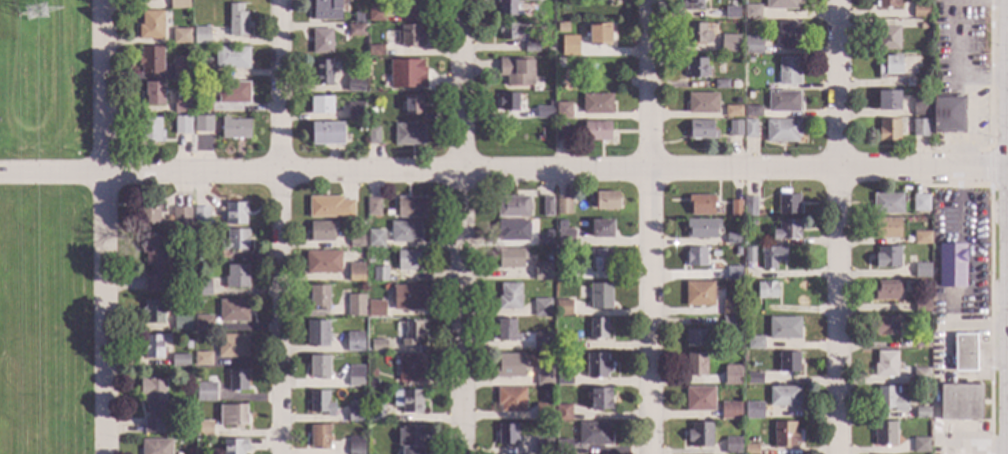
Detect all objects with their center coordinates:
building: (149, 0)
building: (529, 0)
building: (541, 0)
building: (887, 3)
building: (179, 4)
building: (781, 4)
building: (693, 5)
building: (506, 7)
building: (411, 9)
building: (326, 10)
building: (752, 12)
building: (920, 12)
building: (730, 13)
power tower: (37, 14)
building: (375, 14)
building: (358, 17)
building: (237, 20)
building: (153, 24)
building: (923, 26)
building: (356, 31)
building: (511, 31)
building: (696, 33)
building: (599, 35)
building: (201, 36)
building: (410, 36)
building: (787, 36)
building: (181, 37)
building: (887, 38)
building: (322, 42)
building: (730, 44)
building: (752, 45)
building: (568, 46)
building: (531, 48)
building: (375, 51)
building: (549, 52)
building: (231, 58)
building: (749, 60)
building: (151, 61)
building: (560, 63)
building: (889, 66)
building: (180, 67)
building: (696, 68)
building: (202, 69)
building: (516, 71)
building: (788, 71)
building: (323, 73)
building: (406, 74)
building: (908, 83)
building: (355, 85)
building: (723, 85)
building: (153, 93)
building: (233, 93)
building: (888, 100)
building: (508, 102)
building: (782, 102)
building: (702, 103)
building: (596, 104)
building: (181, 105)
building: (202, 105)
building: (321, 105)
building: (413, 106)
building: (920, 107)
building: (563, 110)
building: (356, 111)
building: (372, 111)
building: (732, 111)
building: (752, 111)
building: (543, 113)
building: (531, 115)
building: (949, 115)
building: (550, 123)
building: (203, 124)
building: (182, 125)
building: (361, 126)
building: (734, 128)
building: (920, 128)
building: (234, 129)
building: (749, 129)
building: (888, 129)
building: (150, 130)
building: (701, 130)
building: (781, 131)
building: (561, 132)
building: (596, 132)
building: (326, 133)
building: (409, 135)
building: (373, 136)
road: (504, 172)
building: (606, 201)
building: (787, 203)
building: (920, 203)
building: (888, 204)
building: (701, 205)
building: (563, 206)
building: (330, 207)
building: (373, 207)
building: (513, 207)
building: (547, 207)
building: (750, 207)
building: (411, 208)
building: (735, 208)
building: (149, 212)
building: (235, 213)
building: (201, 216)
building: (181, 217)
building: (750, 224)
road: (105, 226)
road: (839, 226)
road: (279, 227)
road: (461, 227)
road: (650, 227)
building: (886, 228)
building: (601, 229)
building: (701, 229)
building: (512, 230)
building: (786, 230)
building: (321, 231)
building: (404, 232)
building: (197, 235)
building: (564, 237)
building: (375, 238)
building: (732, 238)
building: (921, 238)
building: (545, 239)
building: (235, 240)
building: (356, 241)
building: (736, 252)
building: (749, 255)
building: (695, 257)
building: (771, 257)
building: (887, 257)
building: (509, 258)
building: (599, 259)
building: (407, 260)
building: (155, 261)
building: (323, 262)
building: (369, 262)
building: (951, 265)
building: (921, 270)
building: (565, 271)
building: (543, 272)
building: (355, 273)
building: (380, 274)
building: (733, 274)
building: (237, 277)
building: (746, 287)
building: (202, 288)
building: (766, 289)
building: (887, 290)
building: (699, 294)
building: (509, 296)
building: (600, 296)
building: (318, 297)
building: (408, 298)
building: (355, 306)
building: (921, 306)
building: (730, 307)
building: (375, 308)
building: (542, 308)
building: (563, 308)
building: (233, 310)
building: (154, 311)
building: (182, 322)
building: (203, 324)
building: (731, 325)
building: (886, 326)
building: (784, 328)
building: (597, 329)
building: (506, 331)
building: (411, 333)
building: (316, 334)
building: (695, 338)
building: (541, 341)
building: (354, 342)
building: (755, 343)
building: (921, 343)
building: (563, 344)
building: (154, 345)
building: (187, 345)
building: (232, 346)
building: (378, 346)
building: (965, 352)
building: (202, 360)
building: (180, 361)
building: (788, 362)
building: (695, 364)
building: (885, 364)
building: (510, 366)
building: (597, 366)
building: (318, 367)
building: (410, 368)
building: (373, 373)
building: (355, 376)
building: (544, 376)
building: (919, 376)
building: (564, 378)
building: (754, 379)
building: (733, 380)
building: (237, 381)
building: (747, 388)
building: (205, 391)
building: (784, 397)
building: (510, 399)
building: (600, 399)
building: (699, 399)
building: (890, 399)
building: (408, 401)
building: (960, 402)
building: (320, 403)
building: (155, 406)
building: (730, 411)
building: (754, 411)
building: (356, 412)
building: (375, 412)
building: (543, 412)
building: (563, 413)
building: (922, 413)
building: (233, 415)
building: (204, 428)
building: (884, 433)
building: (593, 434)
building: (785, 434)
building: (506, 435)
building: (699, 435)
building: (319, 437)
building: (411, 440)
building: (202, 444)
building: (356, 445)
building: (920, 445)
building: (156, 446)
building: (543, 446)
building: (732, 446)
building: (234, 447)
building: (563, 447)
building: (751, 449)

